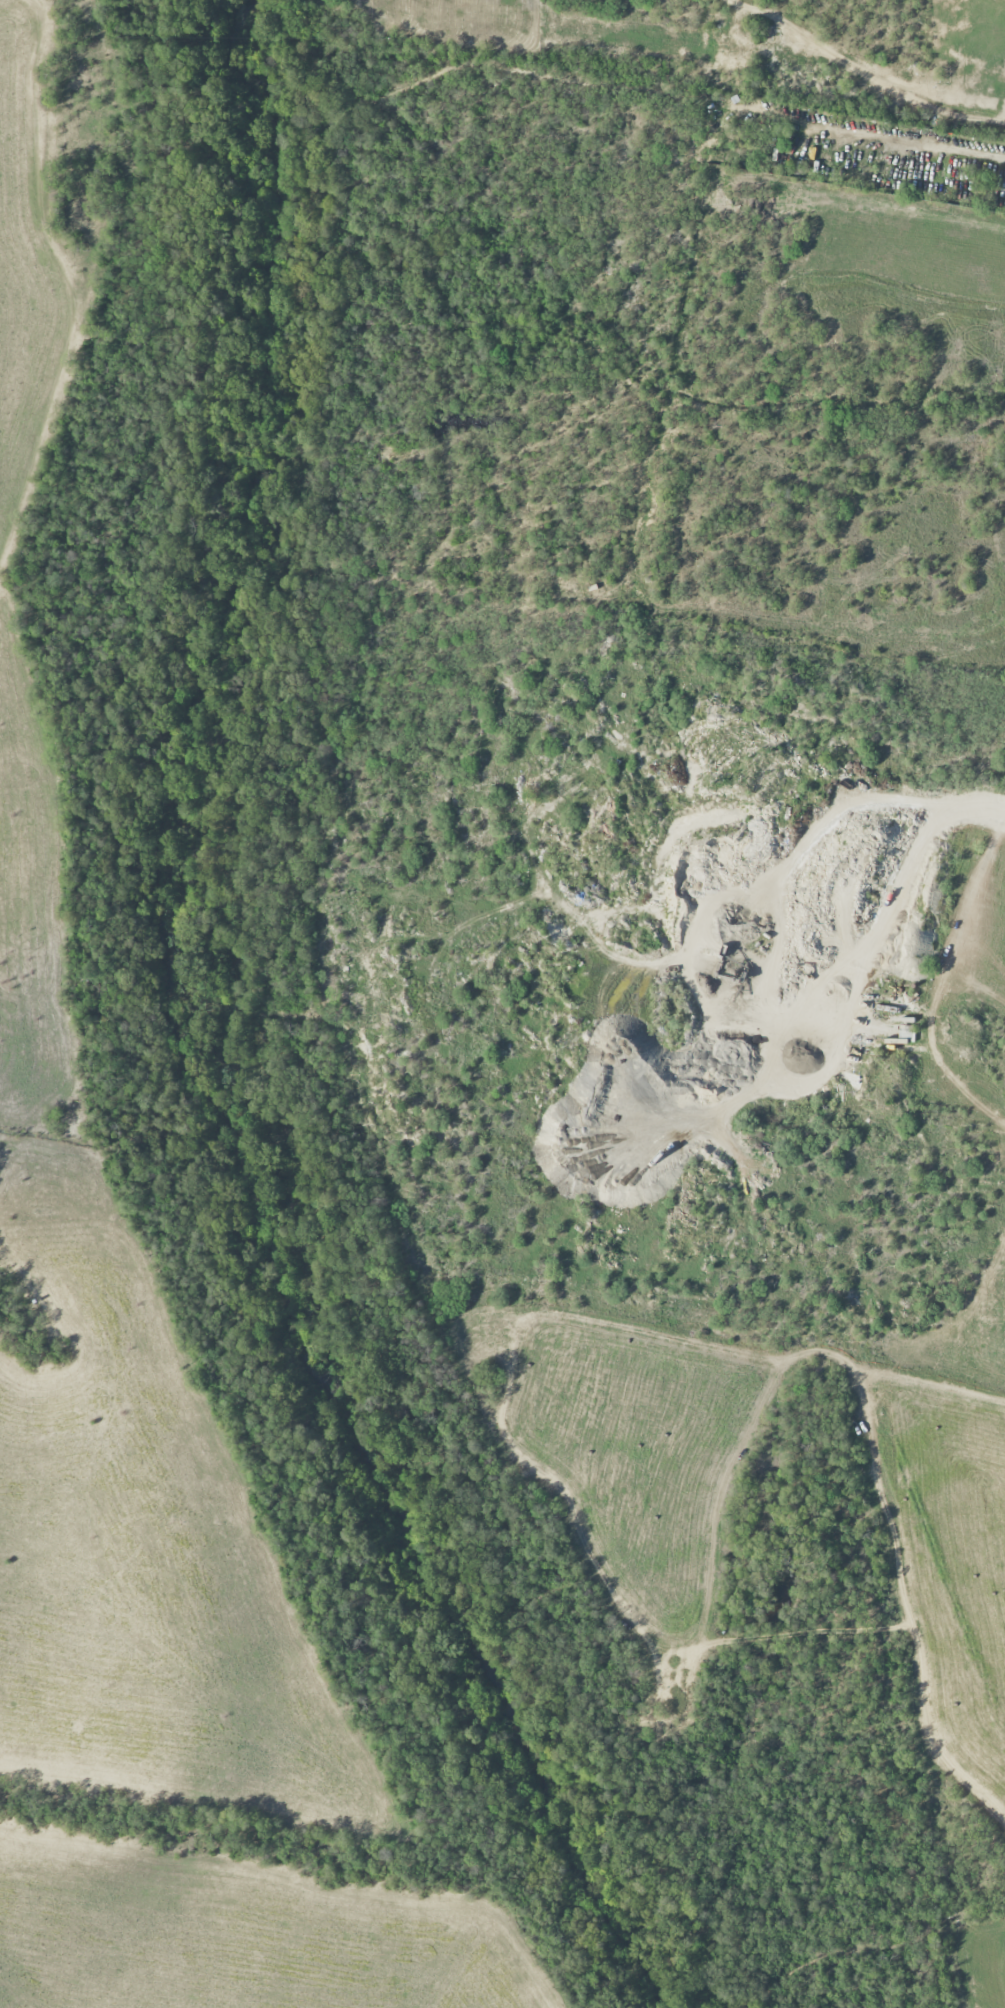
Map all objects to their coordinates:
road: (895, 890)

